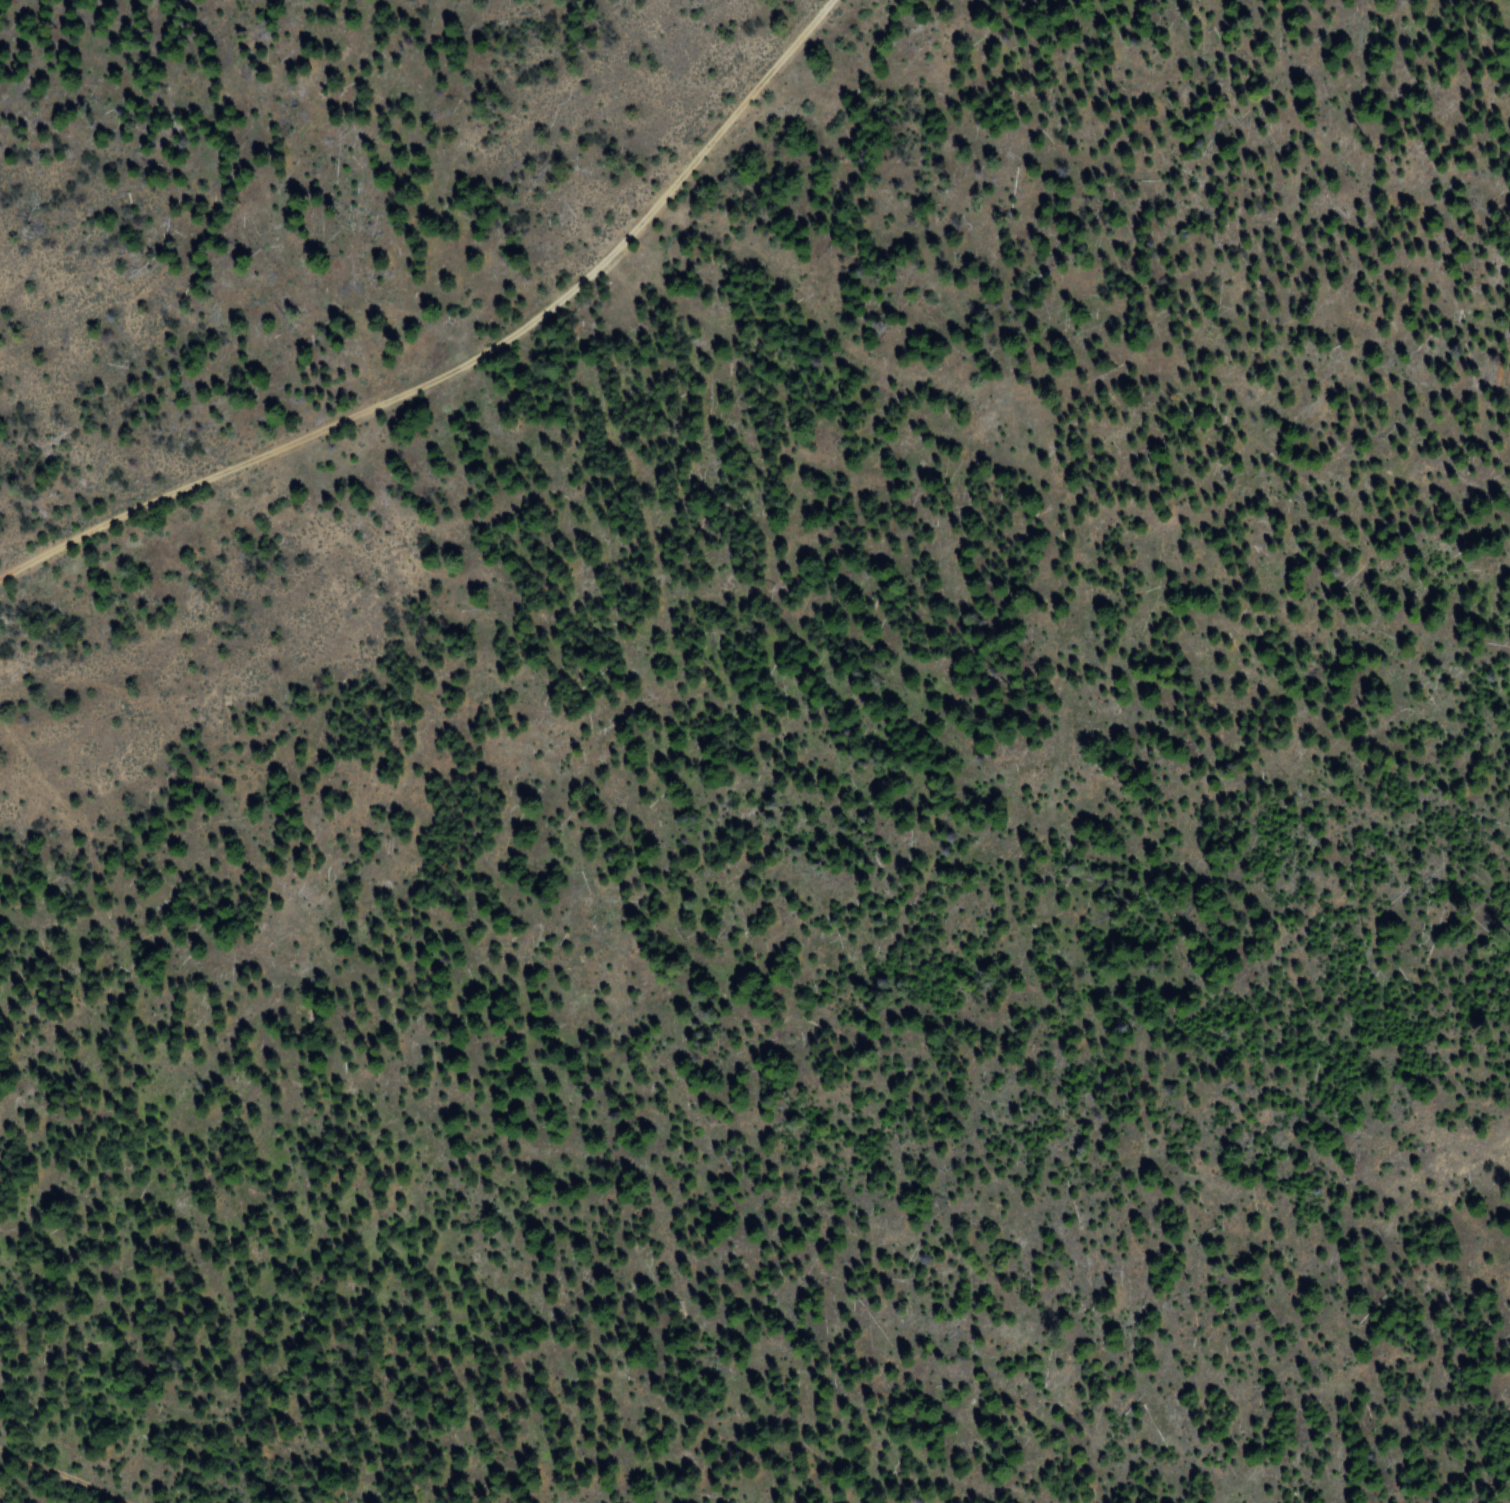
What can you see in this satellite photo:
road: (469, 370)
road: (64, 1475)
road: (63, 1489)

